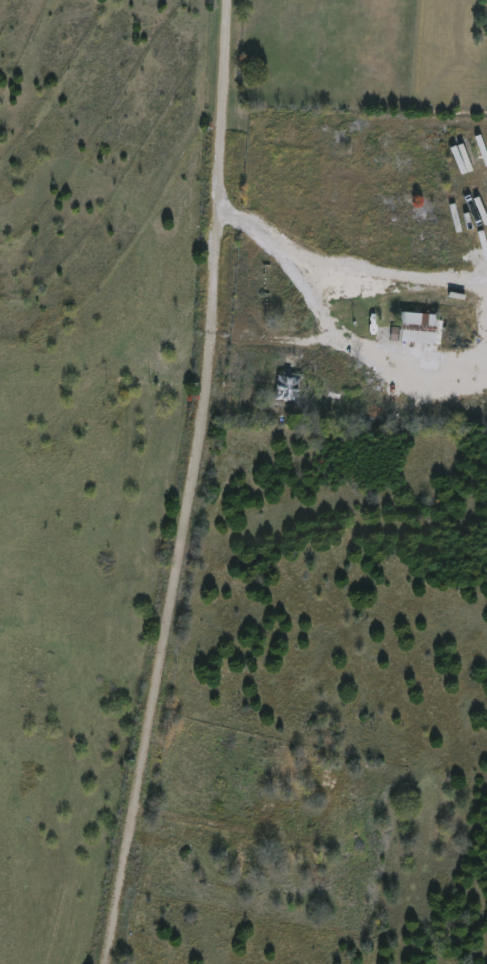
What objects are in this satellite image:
road: (326, 320)
building: (415, 329)
building: (290, 381)
road: (190, 484)
building: (327, 781)
building: (269, 808)

